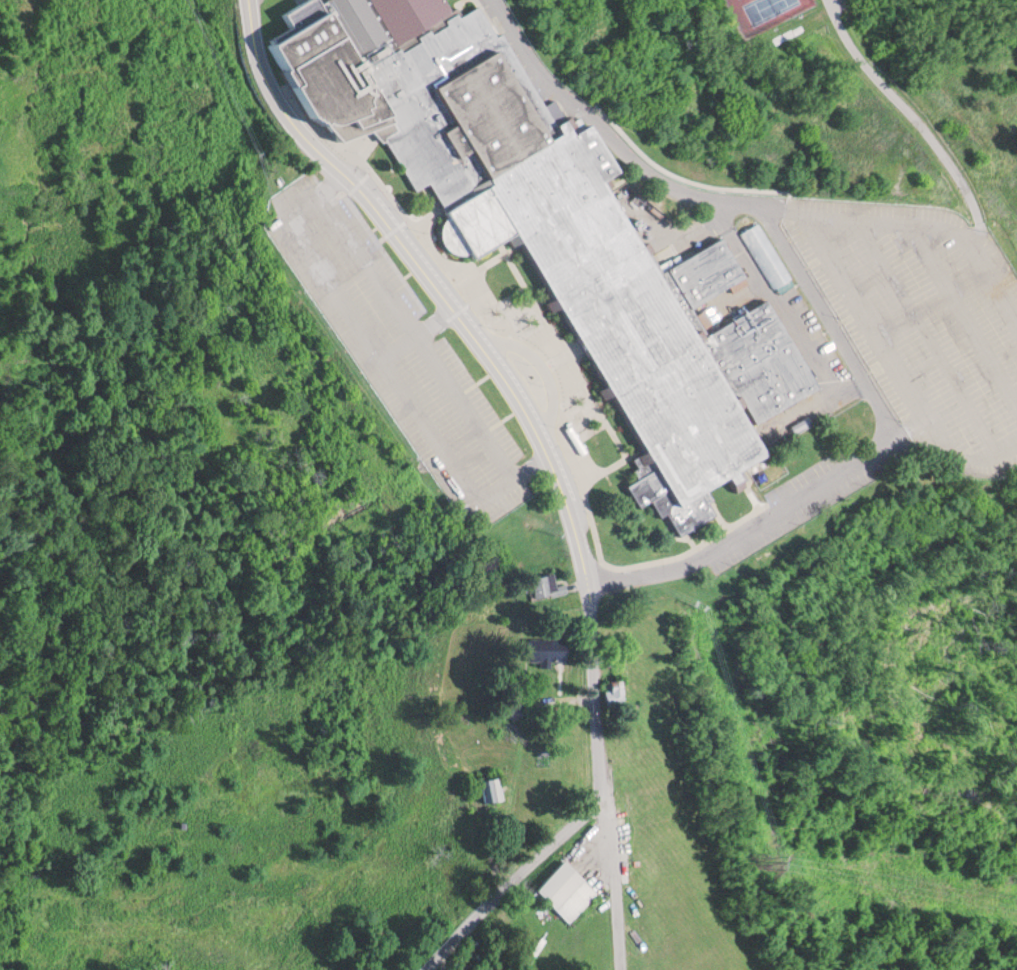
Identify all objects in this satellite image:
building: (331, 83)
road: (921, 115)
road: (609, 132)
road: (786, 211)
road: (939, 229)
building: (576, 248)
building: (770, 252)
road: (426, 270)
road: (966, 315)
road: (419, 333)
road: (931, 335)
road: (422, 339)
road: (387, 365)
road: (895, 367)
road: (907, 428)
road: (859, 463)
building: (539, 647)
building: (487, 787)
road: (601, 803)
road: (616, 887)
building: (563, 889)

